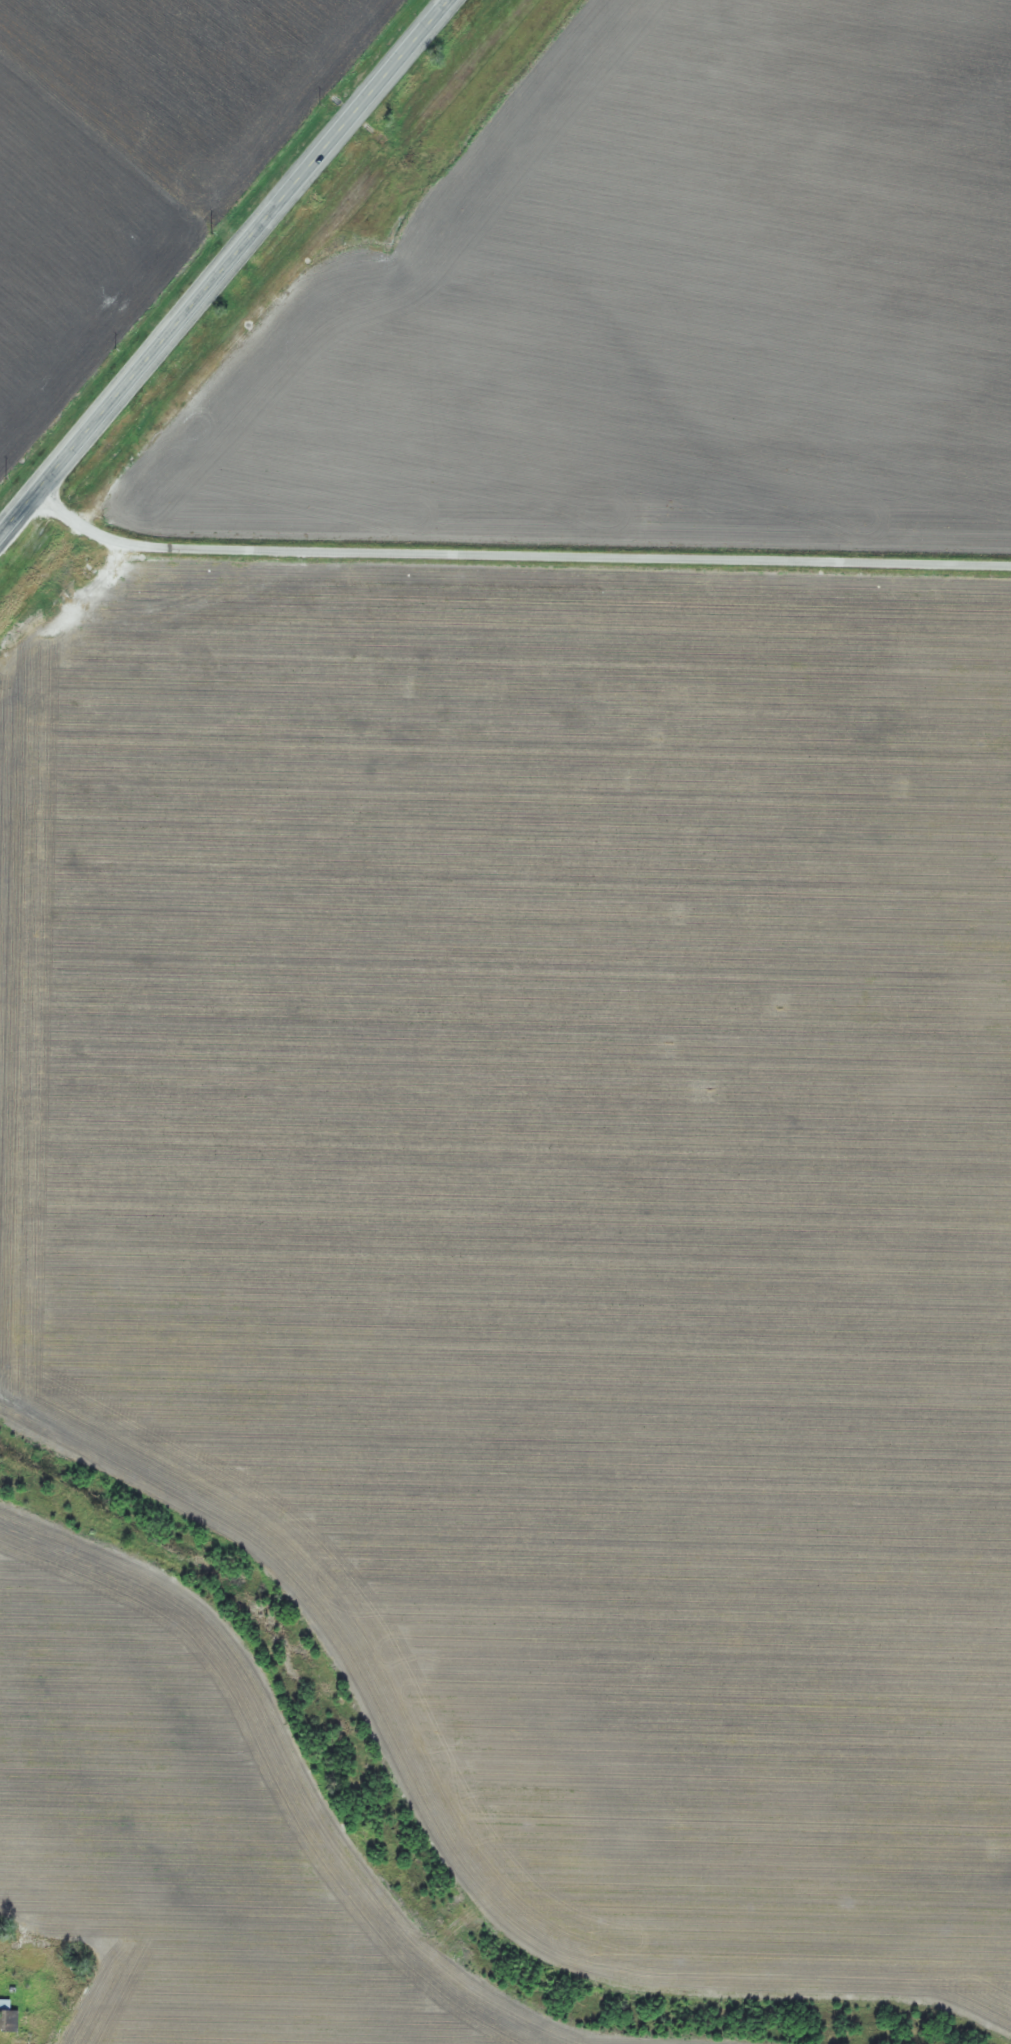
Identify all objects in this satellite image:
road: (224, 266)
railway: (262, 312)
road: (515, 553)
building: (7, 2019)

